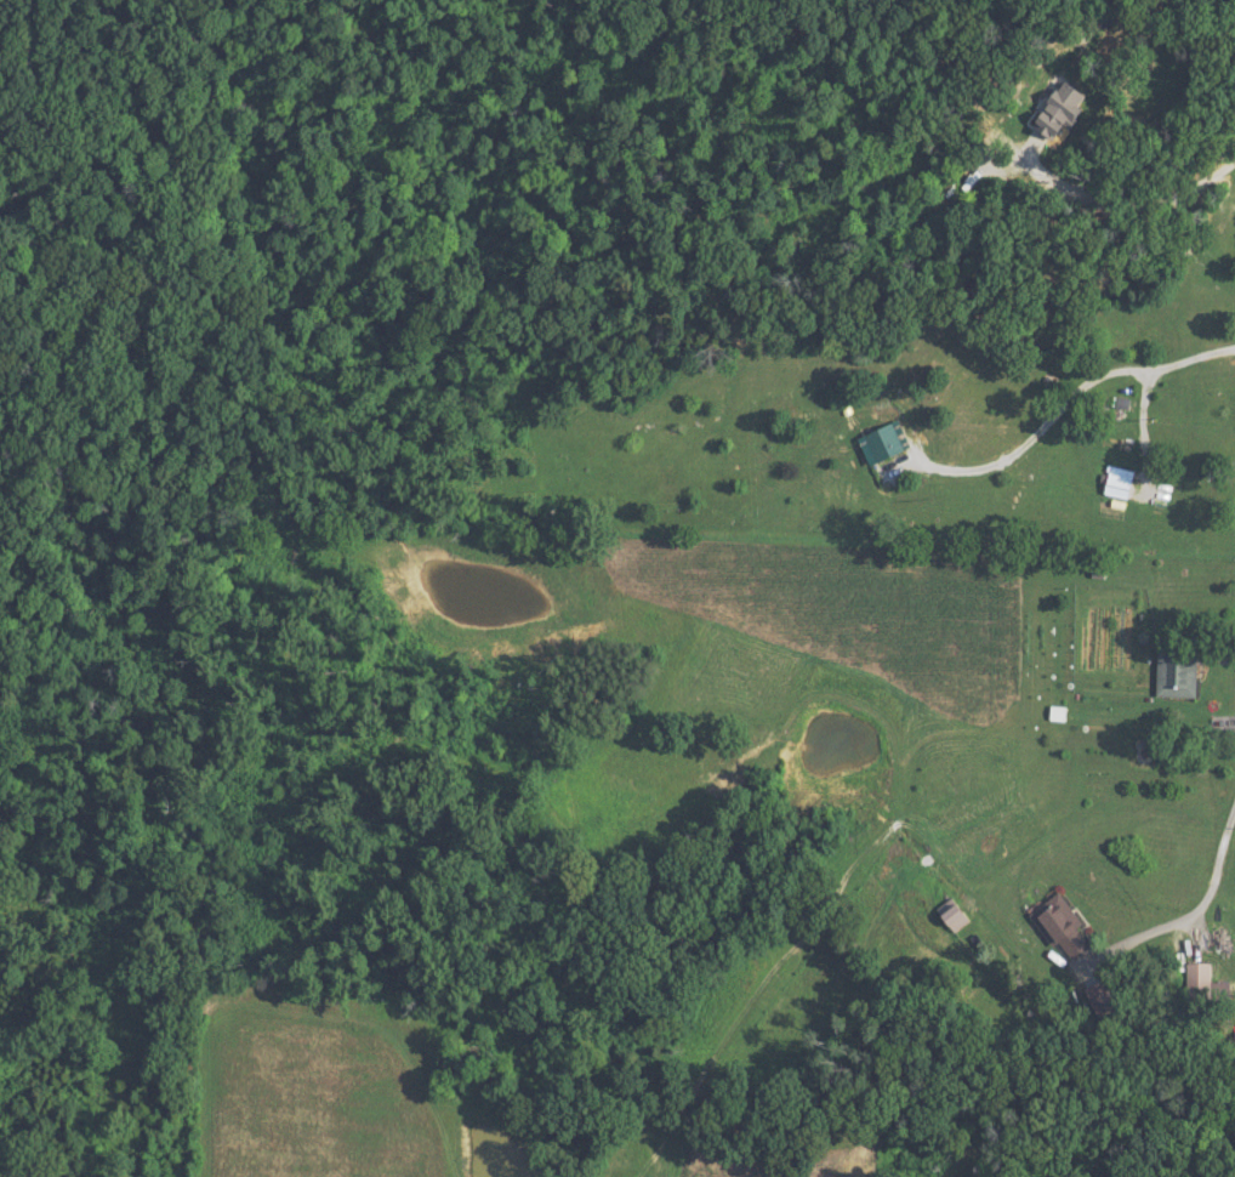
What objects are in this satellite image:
road: (1065, 398)
building: (876, 443)
building: (1112, 482)
building: (1171, 671)
building: (1057, 712)
road: (1203, 891)
building: (952, 912)
building: (1062, 933)

